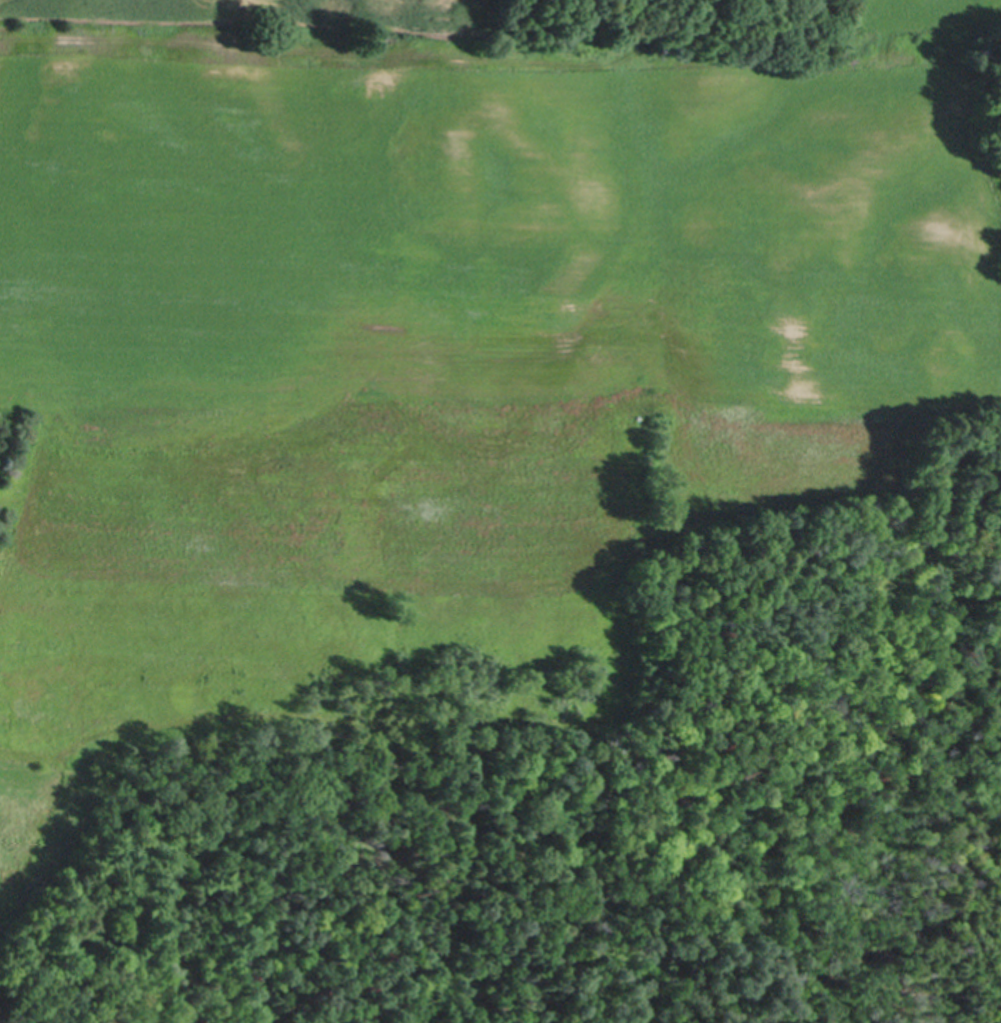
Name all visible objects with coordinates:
building: (12, 838)

